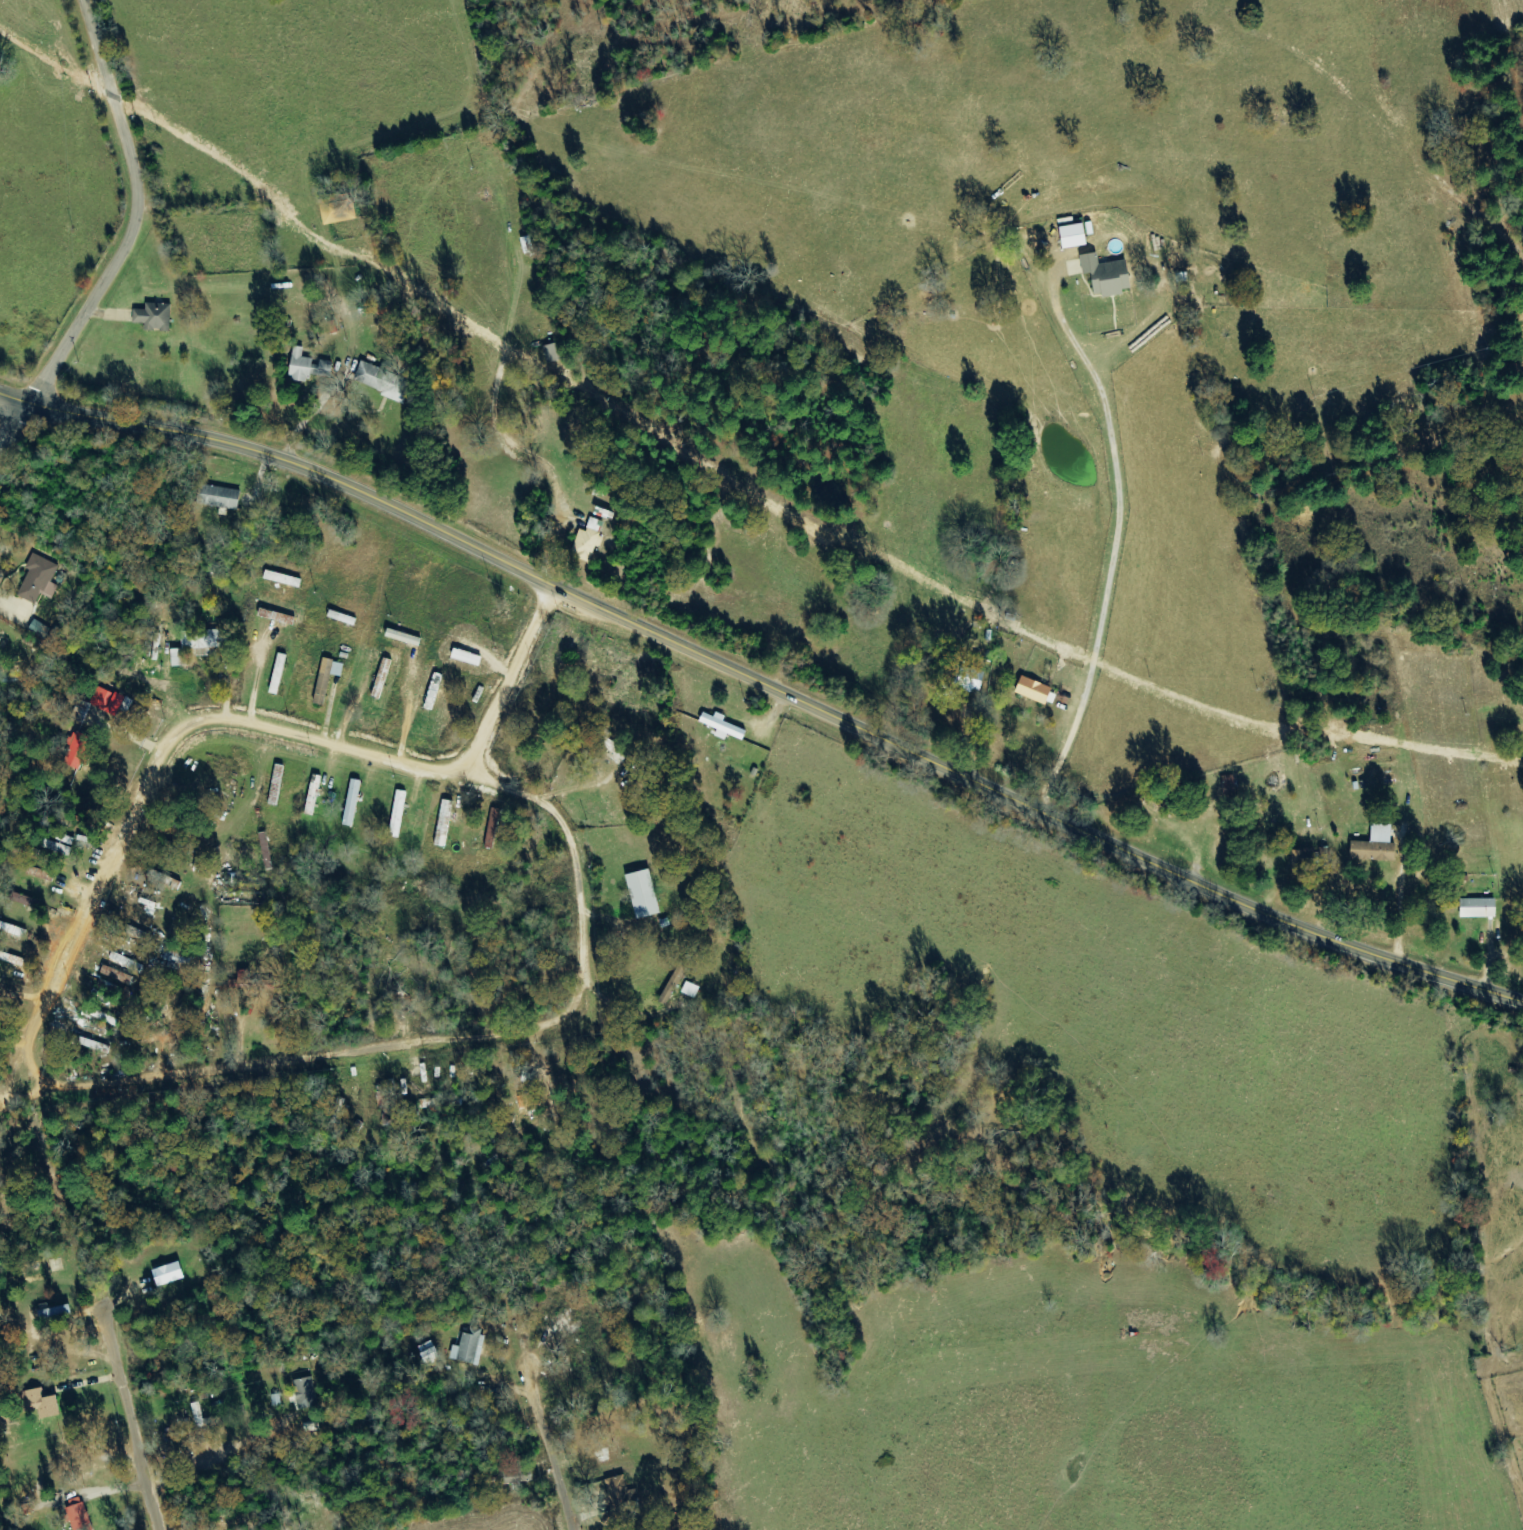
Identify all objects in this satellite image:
building: (339, 208)
road: (140, 217)
building: (1079, 235)
building: (530, 244)
building: (1110, 275)
building: (155, 316)
building: (556, 352)
building: (312, 366)
building: (385, 381)
road: (312, 411)
road: (12, 430)
building: (222, 496)
building: (591, 540)
road: (1117, 543)
building: (40, 579)
building: (41, 630)
building: (971, 678)
building: (328, 679)
road: (510, 680)
road: (764, 685)
building: (1036, 690)
building: (725, 726)
building: (80, 750)
building: (1231, 785)
building: (353, 803)
building: (446, 823)
building: (494, 828)
building: (1377, 846)
building: (269, 850)
building: (1306, 860)
building: (166, 879)
building: (646, 894)
building: (18, 897)
building: (1481, 908)
building: (13, 929)
building: (13, 958)
building: (127, 962)
building: (118, 974)
building: (250, 982)
building: (674, 983)
building: (691, 990)
building: (94, 1044)
road: (119, 1084)
building: (170, 1274)
building: (54, 1312)
building: (470, 1347)
building: (306, 1393)
building: (44, 1404)
building: (202, 1422)
building: (618, 1487)
building: (80, 1514)
road: (61, 1525)

